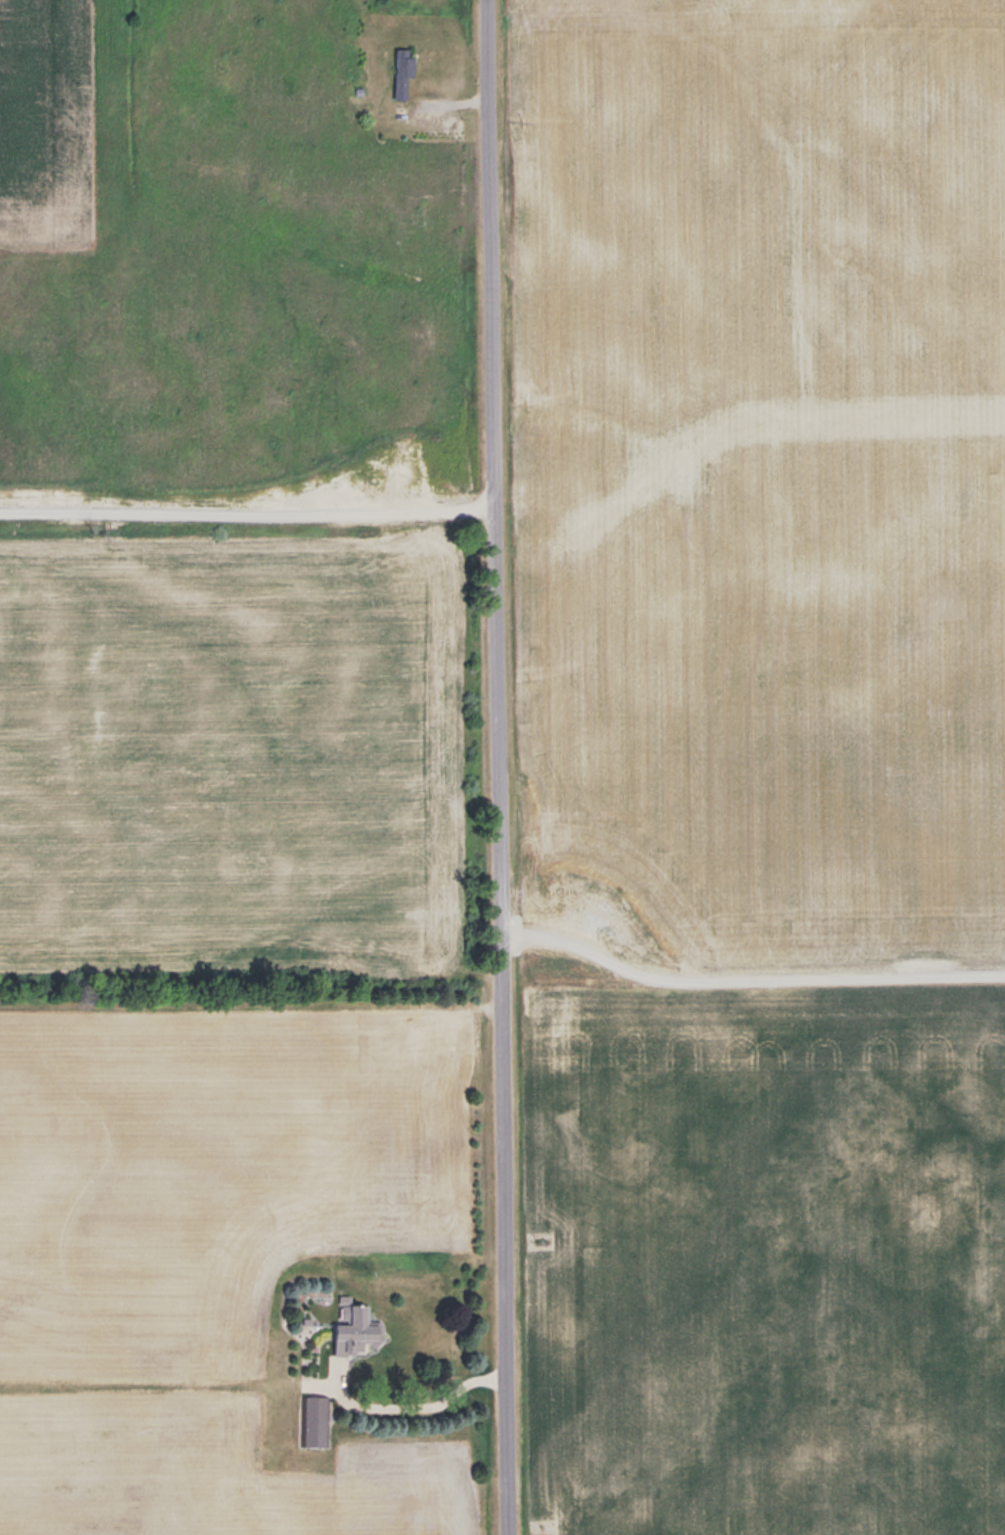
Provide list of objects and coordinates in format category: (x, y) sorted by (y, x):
building: (405, 71)
road: (500, 767)
building: (359, 1332)
building: (317, 1420)

